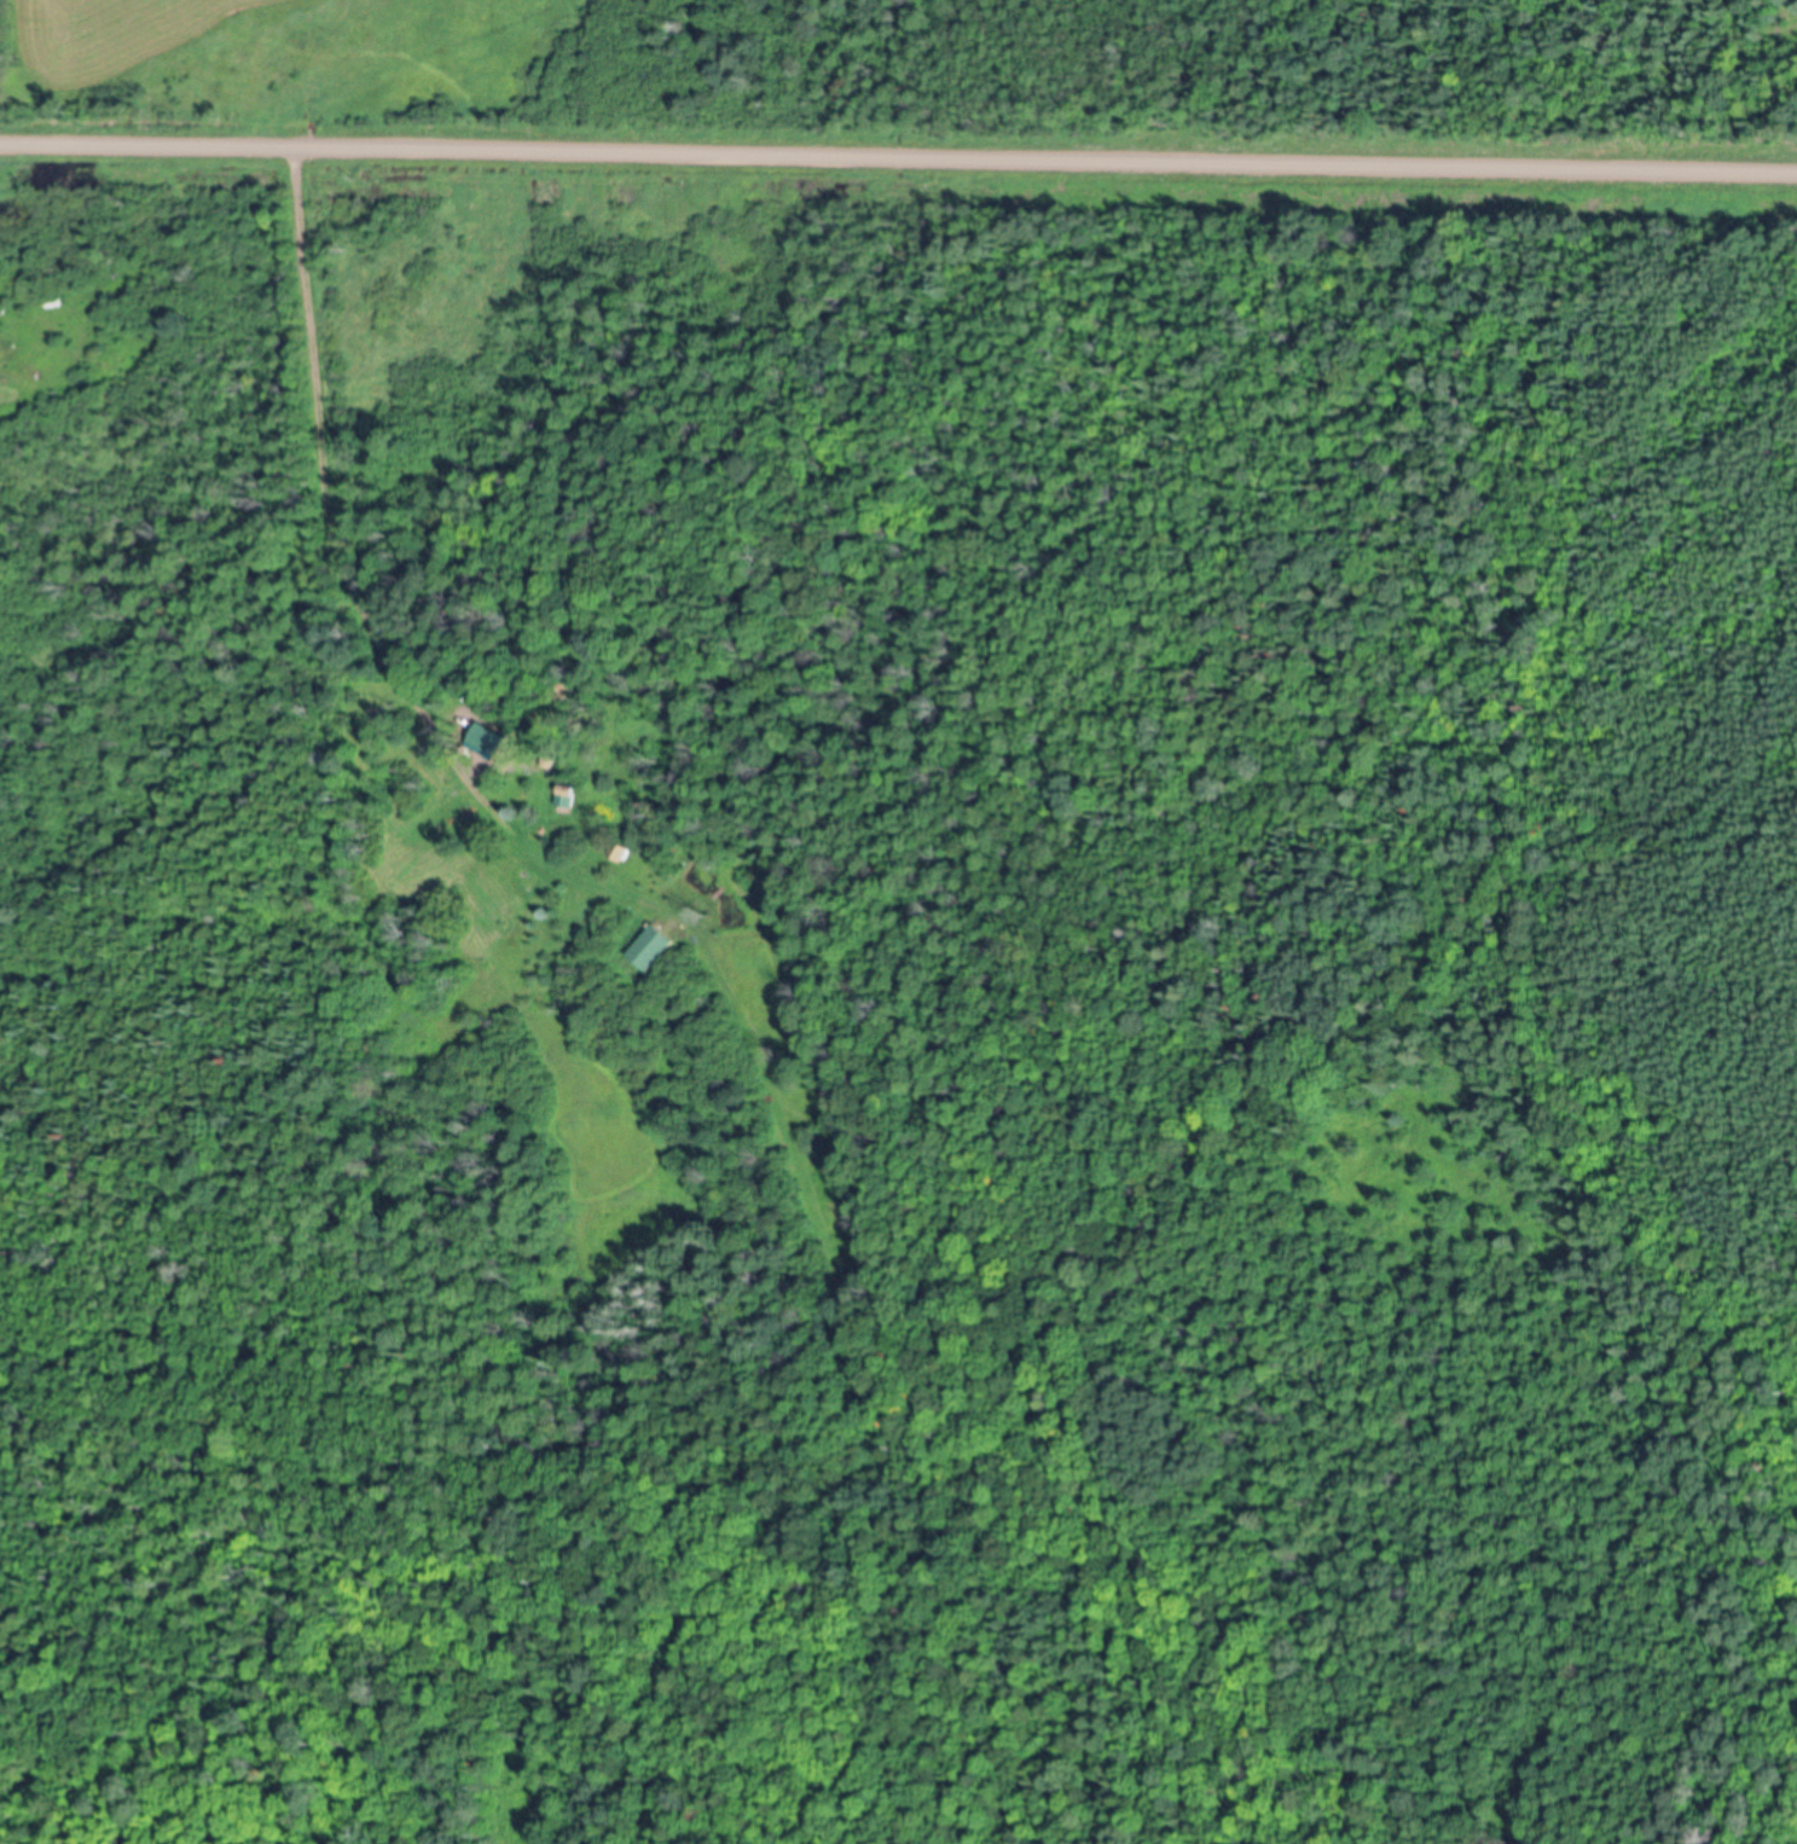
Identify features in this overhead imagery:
road: (898, 161)
road: (327, 471)
building: (566, 799)
building: (616, 853)

